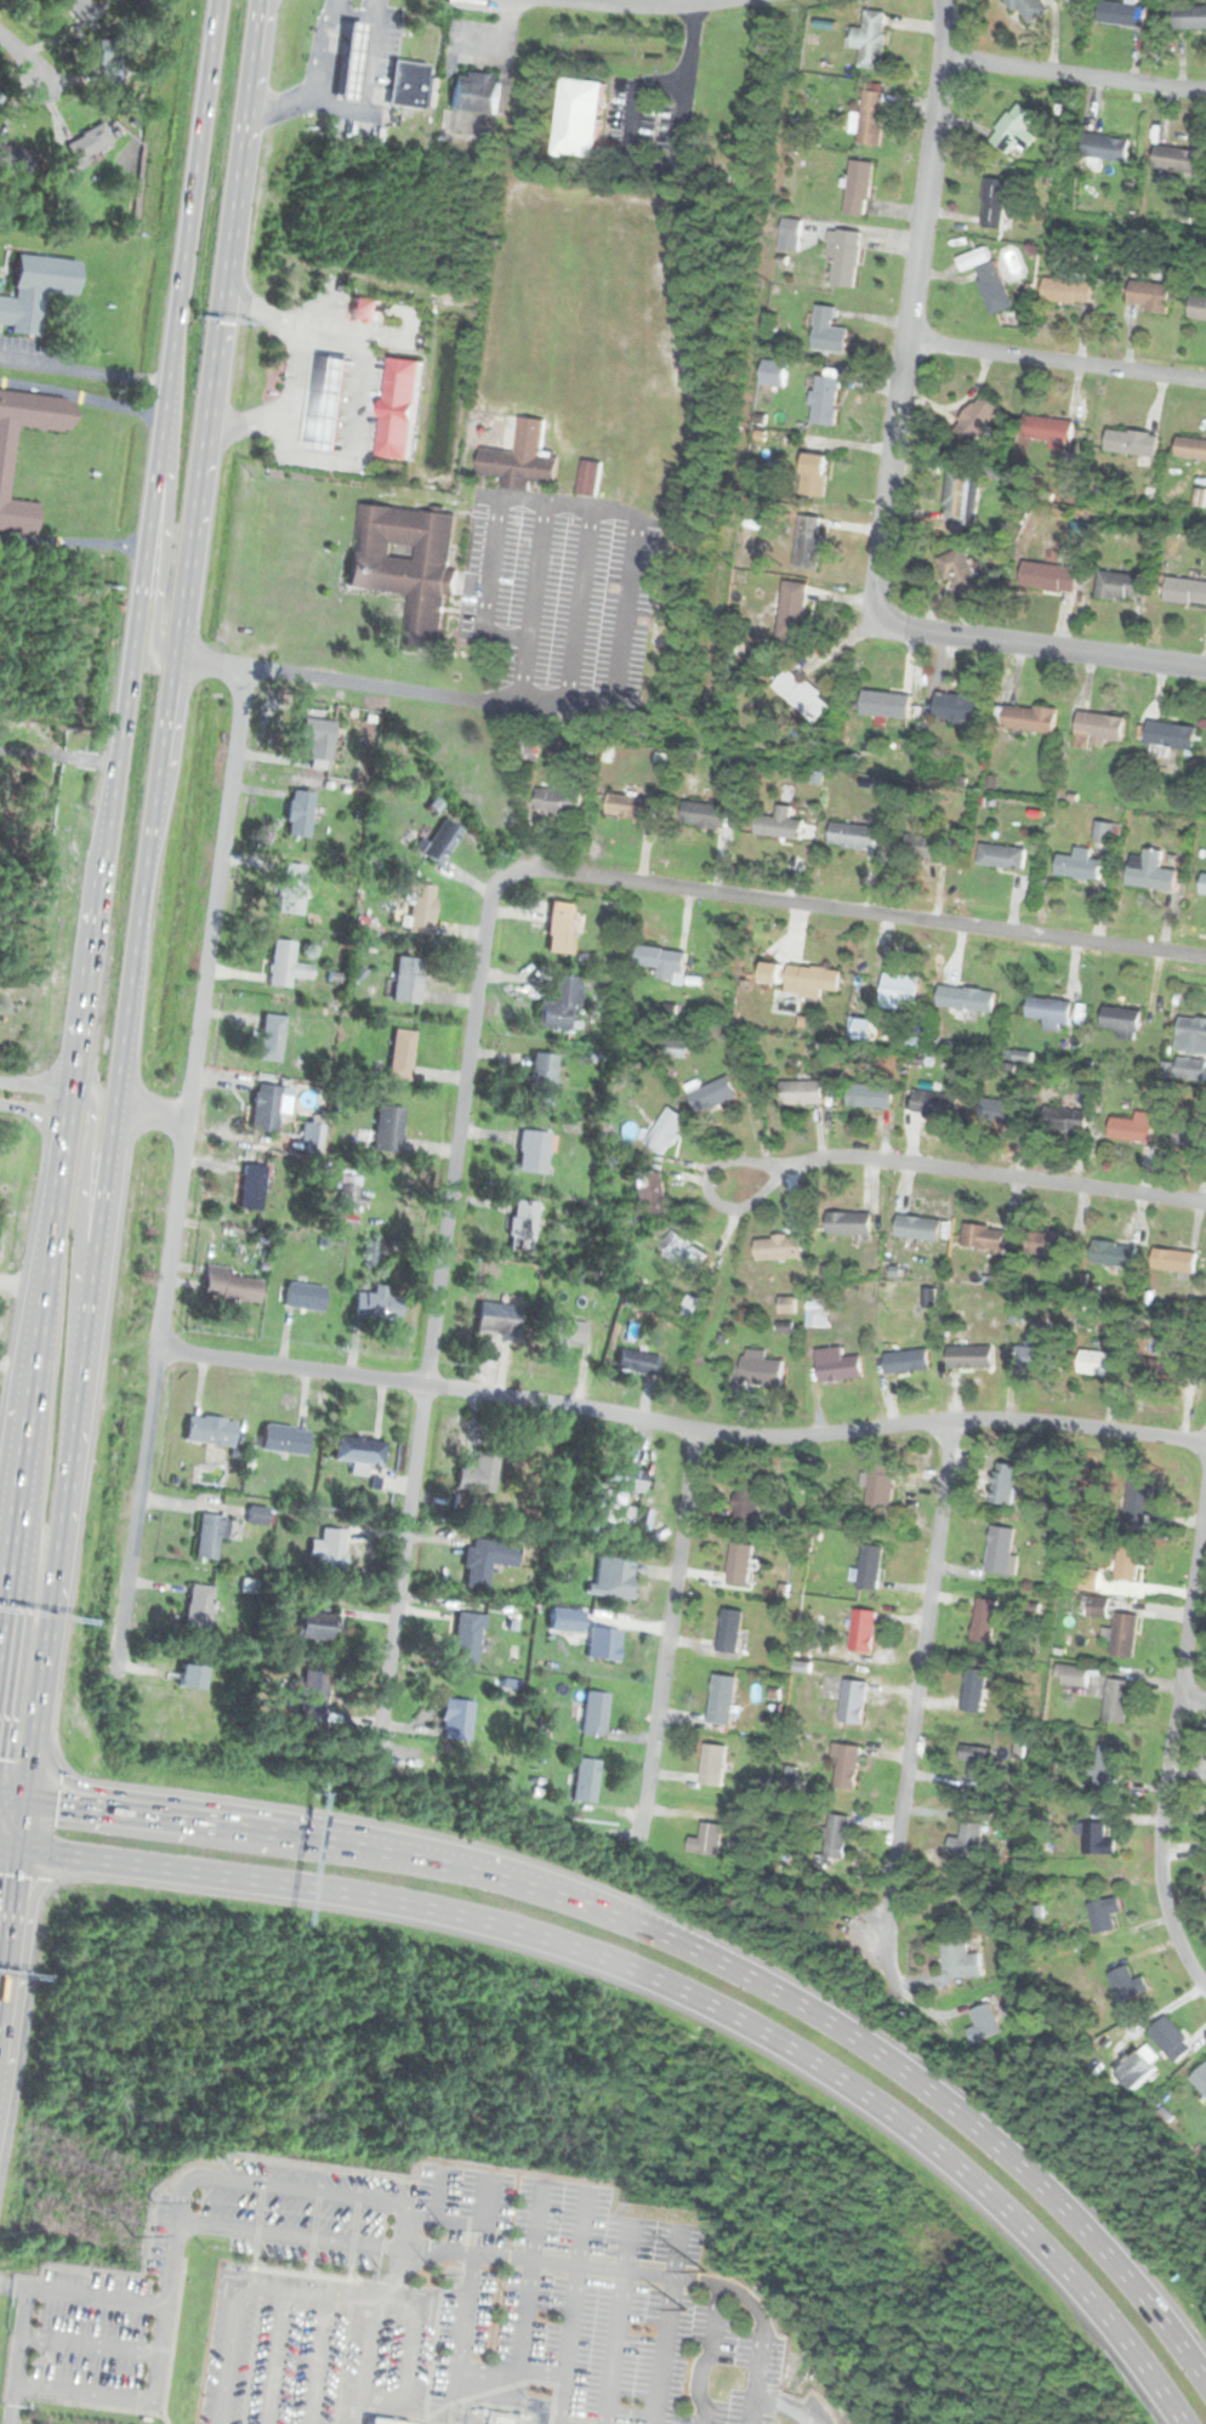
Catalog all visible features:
road: (649, 5)
building: (1028, 10)
building: (83, 11)
building: (1120, 12)
road: (354, 15)
building: (1189, 17)
building: (875, 39)
road: (502, 46)
road: (17, 52)
building: (353, 58)
building: (108, 61)
building: (380, 74)
road: (1074, 74)
road: (317, 80)
building: (408, 82)
road: (368, 90)
building: (476, 92)
building: (586, 118)
building: (872, 118)
building: (1016, 131)
building: (87, 143)
building: (1105, 149)
building: (1178, 160)
road: (672, 165)
building: (859, 188)
building: (996, 204)
building: (847, 258)
building: (975, 260)
building: (995, 289)
building: (35, 291)
building: (1068, 291)
building: (1150, 296)
road: (335, 301)
road: (366, 305)
road: (256, 306)
road: (413, 308)
building: (1199, 308)
building: (365, 309)
road: (909, 309)
road: (305, 311)
road: (331, 329)
building: (829, 332)
road: (391, 337)
road: (1056, 360)
road: (300, 365)
road: (84, 369)
building: (775, 375)
building: (826, 398)
building: (332, 405)
building: (402, 409)
building: (979, 420)
road: (248, 423)
building: (1052, 427)
building: (1134, 443)
building: (1191, 449)
road: (357, 455)
building: (522, 459)
building: (5, 467)
building: (817, 473)
building: (588, 478)
building: (958, 496)
road: (164, 537)
building: (810, 544)
building: (408, 565)
road: (539, 571)
building: (960, 573)
building: (1051, 579)
building: (1122, 587)
building: (1185, 590)
road: (584, 603)
road: (626, 609)
building: (793, 611)
road: (1042, 647)
building: (803, 696)
building: (887, 705)
building: (961, 710)
building: (1031, 719)
building: (1097, 729)
building: (1167, 736)
building: (319, 740)
road: (58, 755)
building: (558, 802)
building: (637, 809)
building: (298, 814)
building: (706, 816)
road: (109, 823)
building: (780, 826)
building: (854, 837)
building: (440, 842)
building: (933, 849)
building: (1003, 858)
building: (1079, 865)
building: (1149, 871)
road: (598, 876)
building: (1201, 883)
building: (420, 910)
building: (562, 928)
building: (666, 958)
building: (285, 965)
building: (802, 979)
building: (408, 980)
road: (127, 995)
building: (901, 995)
building: (971, 1000)
building: (561, 1006)
building: (1048, 1011)
building: (1120, 1020)
building: (1190, 1028)
building: (271, 1040)
building: (676, 1051)
building: (400, 1055)
building: (1189, 1069)
building: (540, 1080)
road: (36, 1083)
building: (802, 1094)
building: (871, 1094)
building: (713, 1096)
building: (934, 1105)
road: (35, 1108)
building: (264, 1110)
road: (150, 1113)
building: (999, 1113)
building: (1063, 1121)
building: (1131, 1128)
building: (388, 1131)
building: (666, 1132)
road: (186, 1133)
building: (1190, 1133)
building: (533, 1153)
road: (962, 1168)
building: (251, 1188)
building: (348, 1195)
building: (654, 1195)
road: (81, 1206)
building: (849, 1225)
building: (920, 1225)
building: (522, 1228)
building: (983, 1237)
building: (1046, 1244)
building: (687, 1248)
building: (778, 1250)
building: (1111, 1253)
building: (1172, 1261)
building: (229, 1286)
building: (305, 1298)
building: (377, 1305)
building: (787, 1309)
building: (496, 1320)
building: (570, 1333)
building: (1033, 1355)
building: (963, 1358)
building: (639, 1360)
building: (905, 1361)
building: (1098, 1362)
building: (837, 1366)
building: (761, 1371)
road: (681, 1424)
building: (210, 1430)
building: (284, 1441)
building: (358, 1452)
building: (479, 1475)
building: (630, 1480)
building: (1002, 1483)
building: (878, 1485)
building: (747, 1497)
building: (1138, 1501)
building: (209, 1536)
building: (999, 1549)
building: (329, 1552)
building: (487, 1561)
building: (1127, 1563)
building: (739, 1565)
building: (867, 1571)
building: (609, 1578)
road: (398, 1588)
building: (1097, 1605)
building: (199, 1608)
building: (982, 1620)
building: (318, 1627)
building: (860, 1629)
building: (729, 1632)
building: (1122, 1634)
building: (466, 1639)
building: (601, 1646)
road: (664, 1648)
building: (193, 1674)
building: (972, 1689)
building: (313, 1695)
road: (1191, 1695)
building: (722, 1698)
building: (1116, 1698)
building: (852, 1701)
building: (595, 1713)
building: (456, 1719)
road: (909, 1736)
road: (1171, 1739)
building: (975, 1760)
building: (713, 1765)
building: (844, 1766)
building: (1107, 1766)
building: (585, 1780)
road: (12, 1791)
traffic signals: (59, 1799)
building: (834, 1837)
building: (966, 1839)
building: (1096, 1839)
building: (706, 1840)
road: (10, 1845)
traffic signals: (16, 1876)
building: (1102, 1913)
road: (687, 1944)
building: (954, 1957)
building: (1123, 1981)
road: (678, 1987)
building: (980, 2024)
building: (1167, 2037)
building: (1199, 2078)
road: (258, 2185)
power tower: (152, 2201)
power tower: (444, 2229)
power tower: (135, 2236)
power tower: (705, 2270)
power tower: (434, 2272)
road: (653, 2277)
power tower: (682, 2306)
road: (93, 2343)
road: (21, 2356)
road: (133, 2399)
building: (383, 2422)

